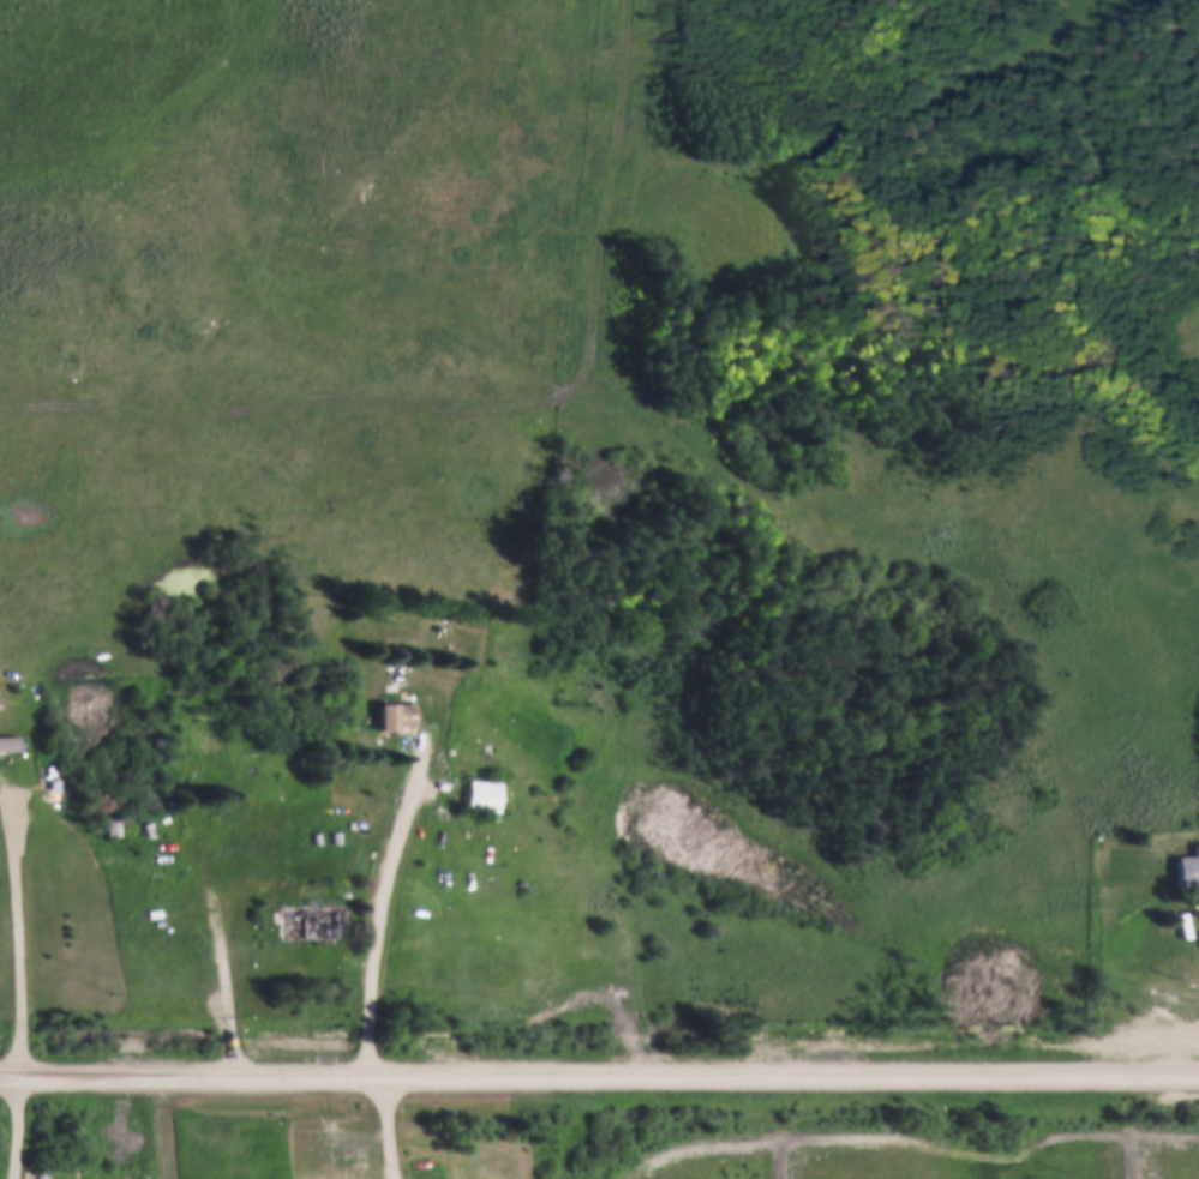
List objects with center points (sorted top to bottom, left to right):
building: (394, 711)
building: (8, 740)
building: (8, 748)
building: (50, 768)
building: (188, 772)
building: (54, 789)
building: (264, 793)
building: (481, 793)
building: (148, 826)
building: (270, 831)
building: (256, 834)
building: (278, 834)
building: (286, 834)
building: (317, 836)
building: (336, 836)
building: (304, 838)
building: (1187, 870)
road: (380, 902)
building: (307, 919)
road: (224, 963)
road: (24, 973)
road: (12, 1070)
road: (611, 1075)
road: (389, 1126)

